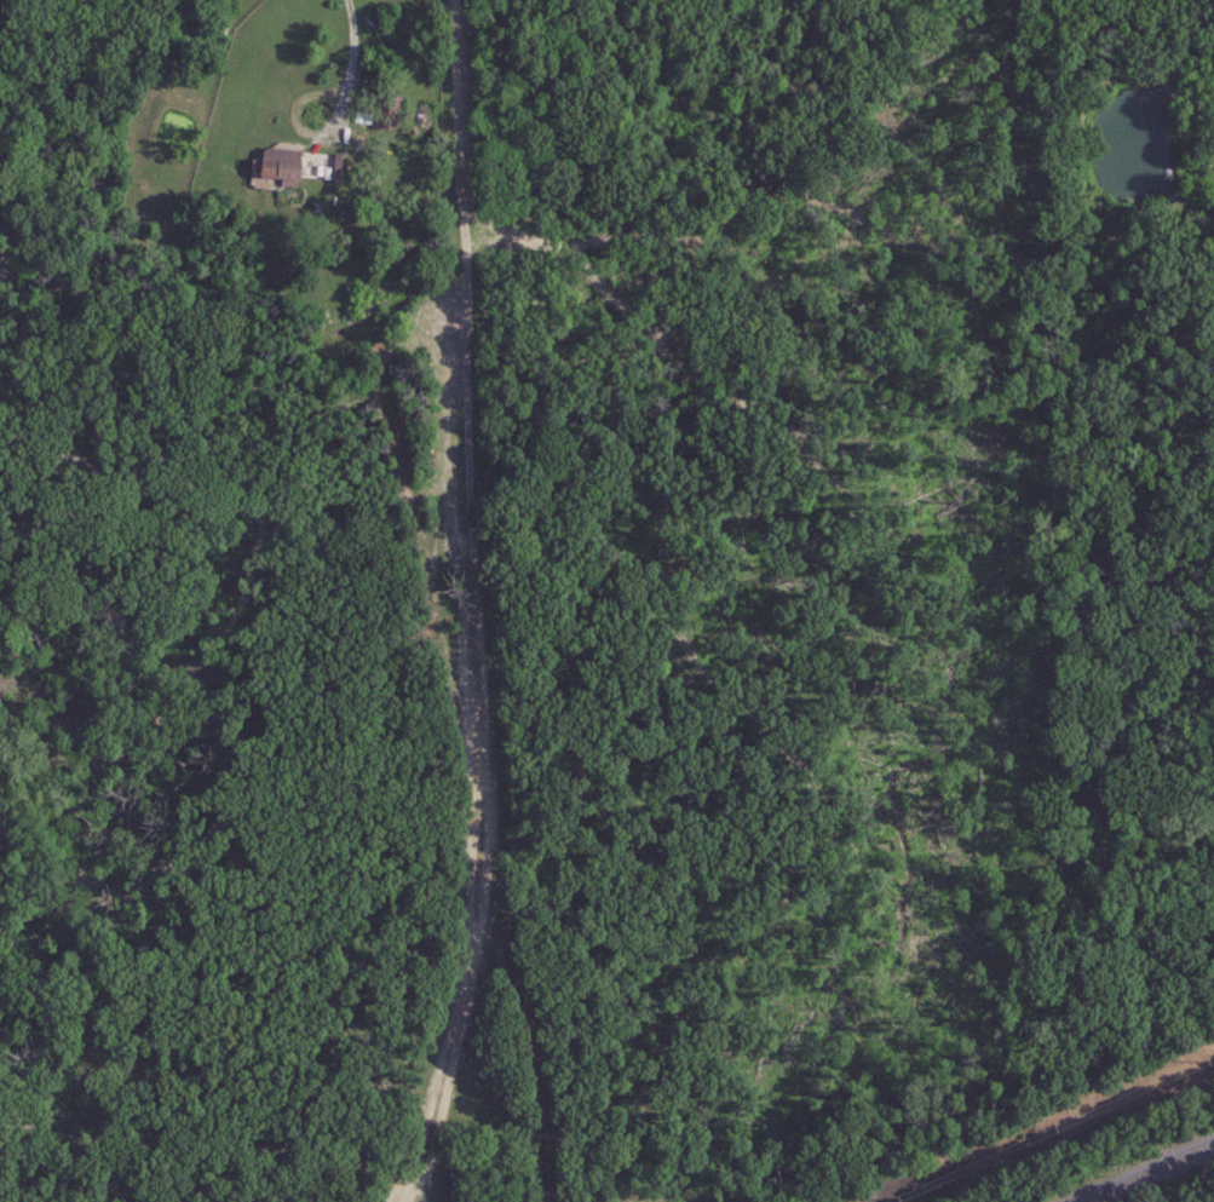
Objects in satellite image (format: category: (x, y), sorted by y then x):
road: (355, 42)
road: (299, 127)
building: (278, 165)
road: (466, 281)
road: (481, 887)
railway: (1146, 1172)
road: (399, 1200)

